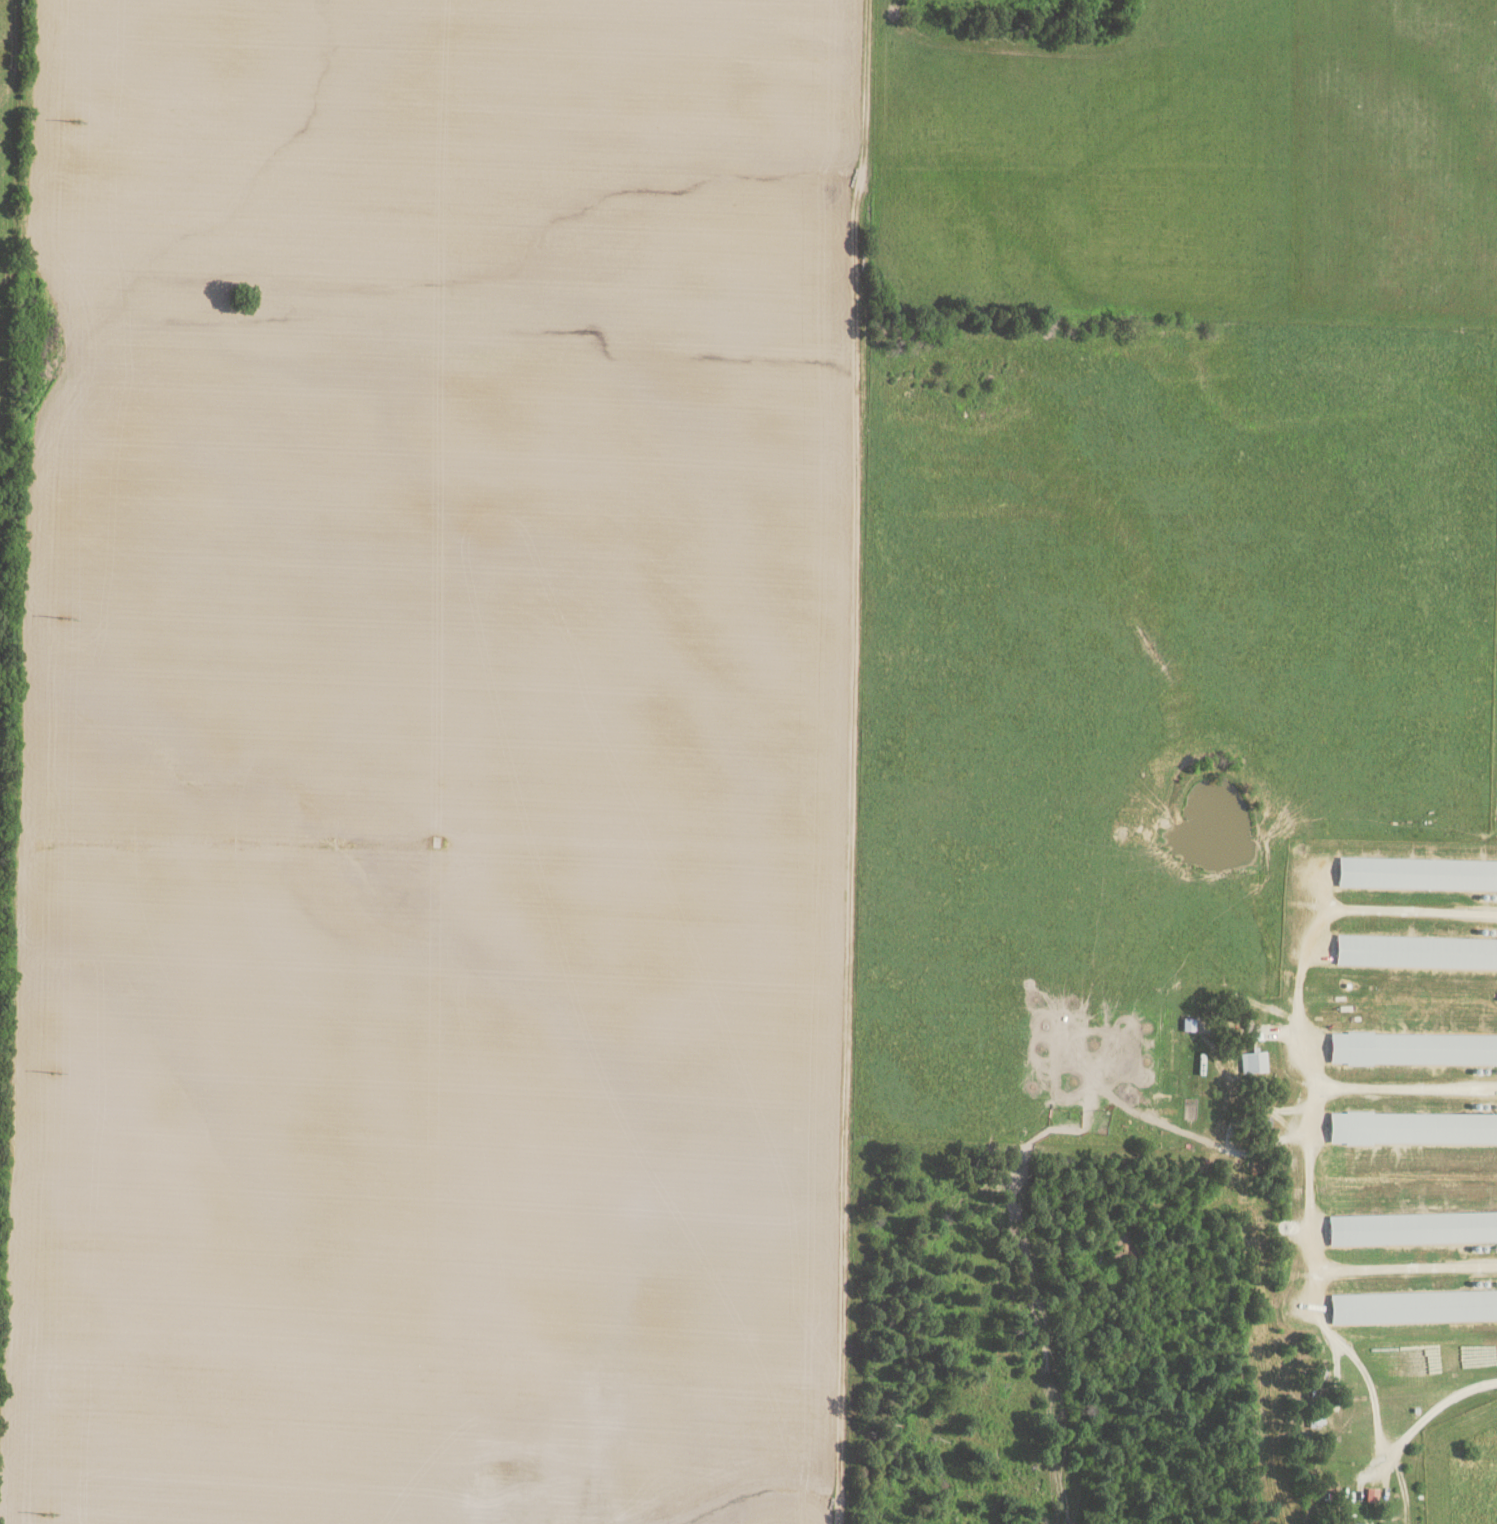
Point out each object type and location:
building: (1417, 873)
building: (1416, 951)
building: (1413, 1048)
building: (1252, 1061)
road: (1405, 1087)
road: (1310, 1113)
building: (1413, 1128)
building: (1412, 1228)
road: (1405, 1267)
building: (1414, 1306)
building: (1316, 1419)
road: (1425, 1423)
building: (1372, 1494)
building: (1351, 1523)

